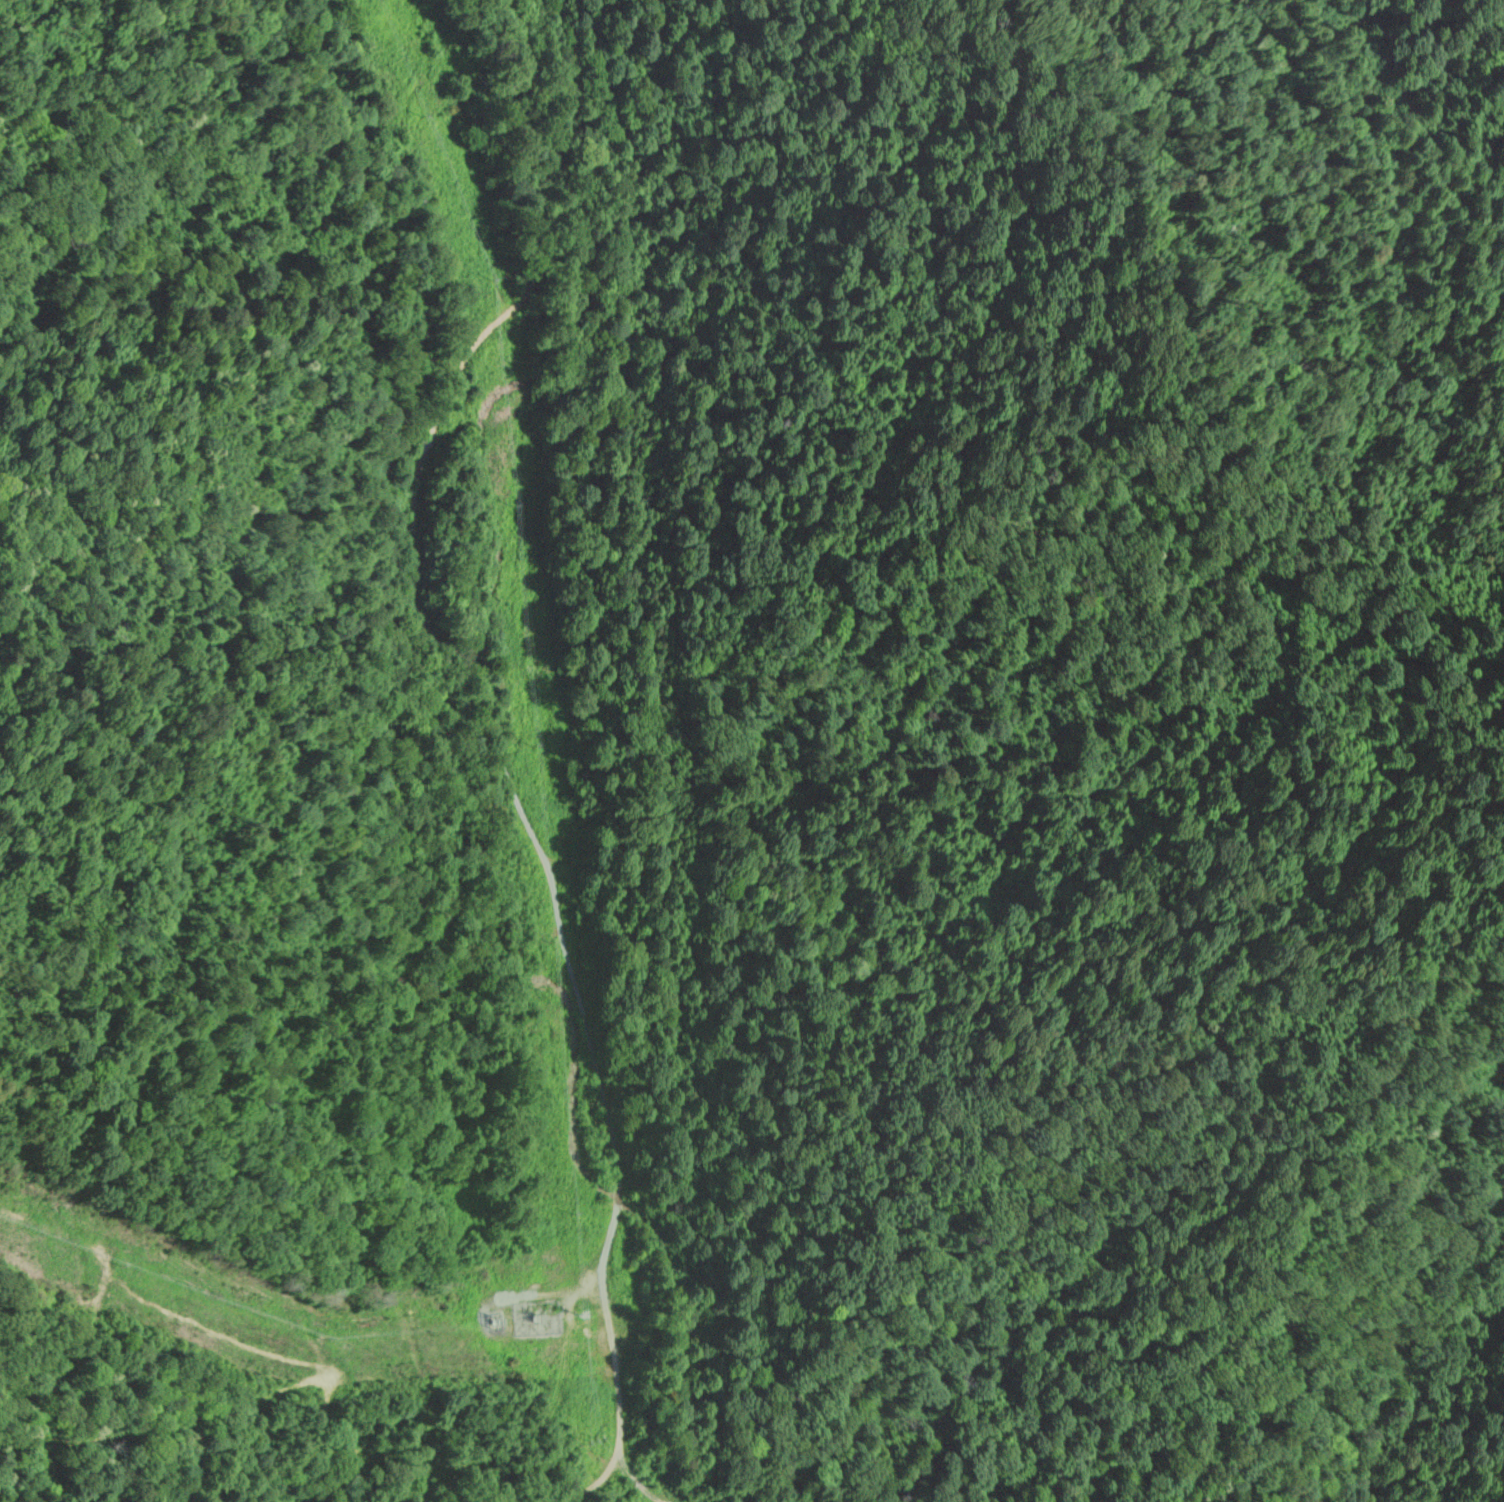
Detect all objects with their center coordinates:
building: (1497, 1127)

